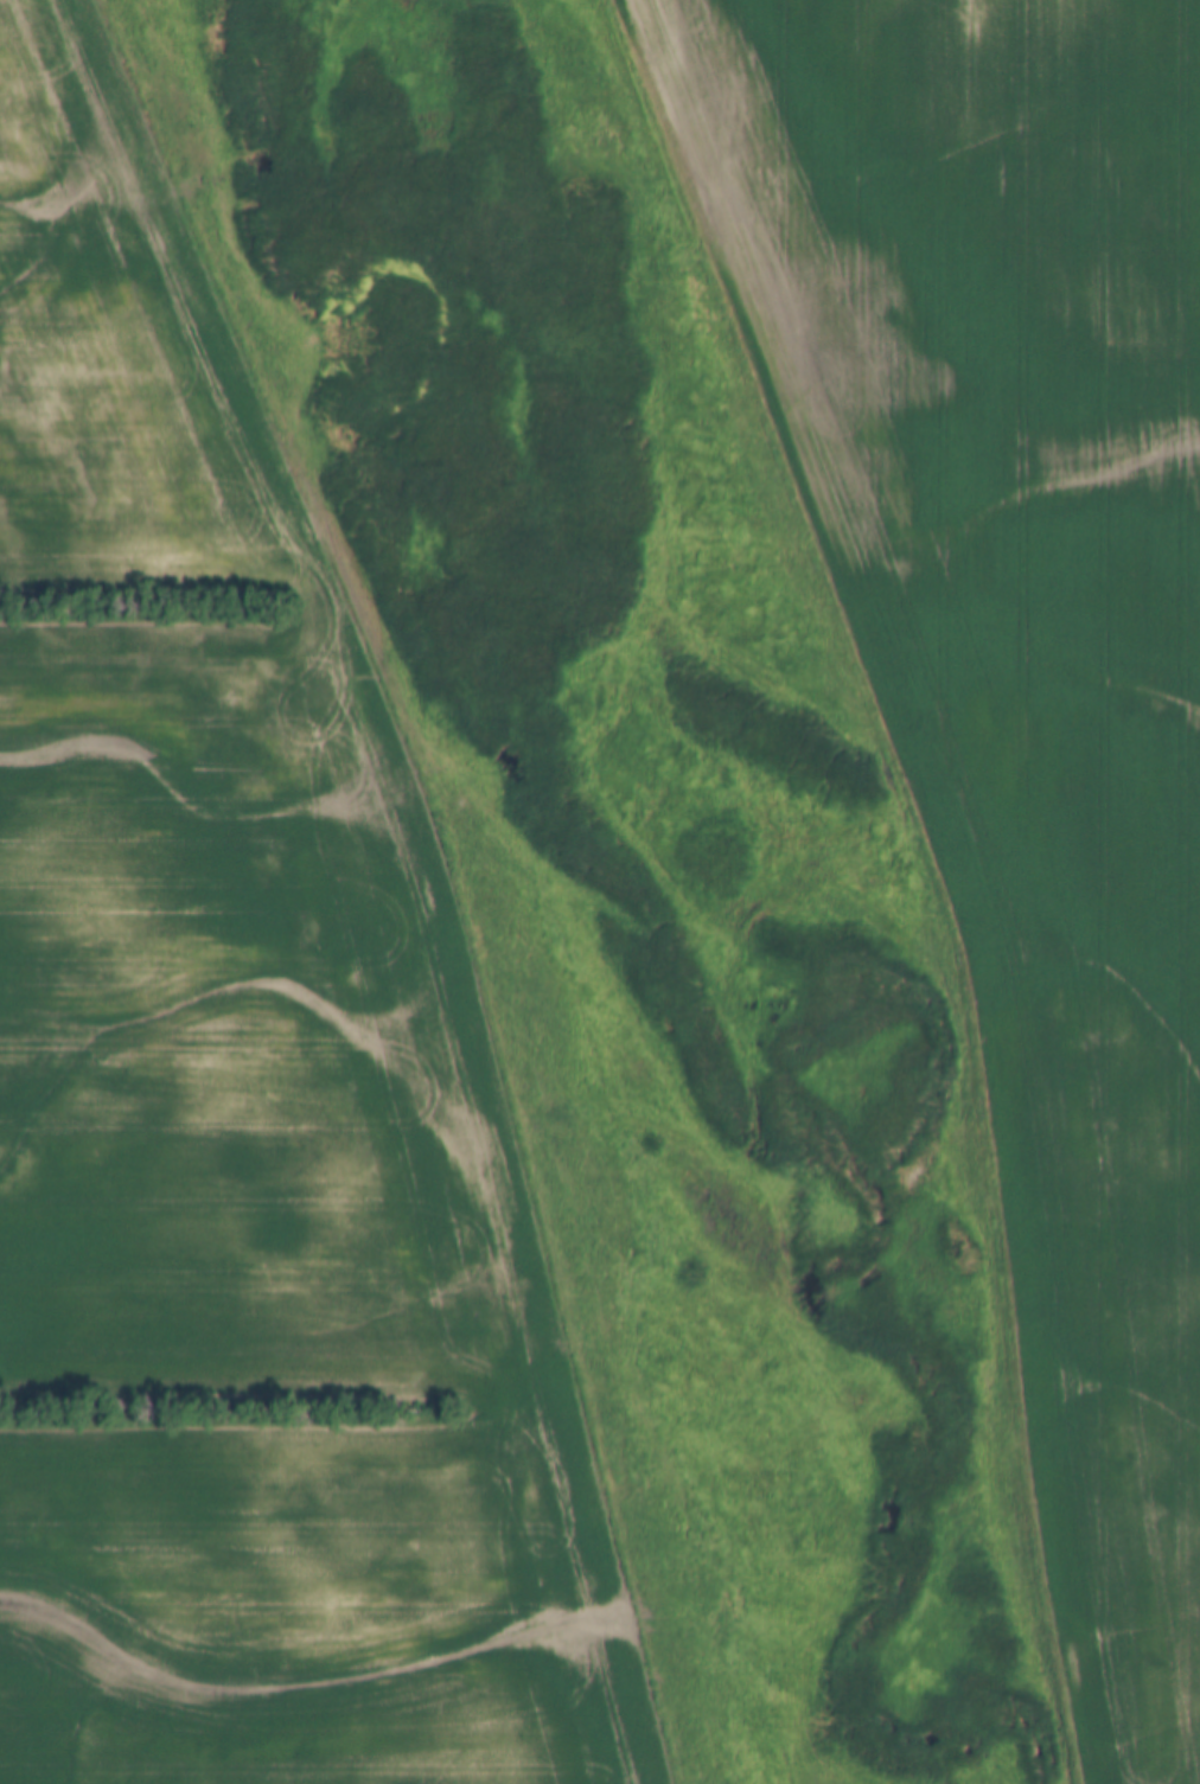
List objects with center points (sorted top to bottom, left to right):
river: (652, 957)

